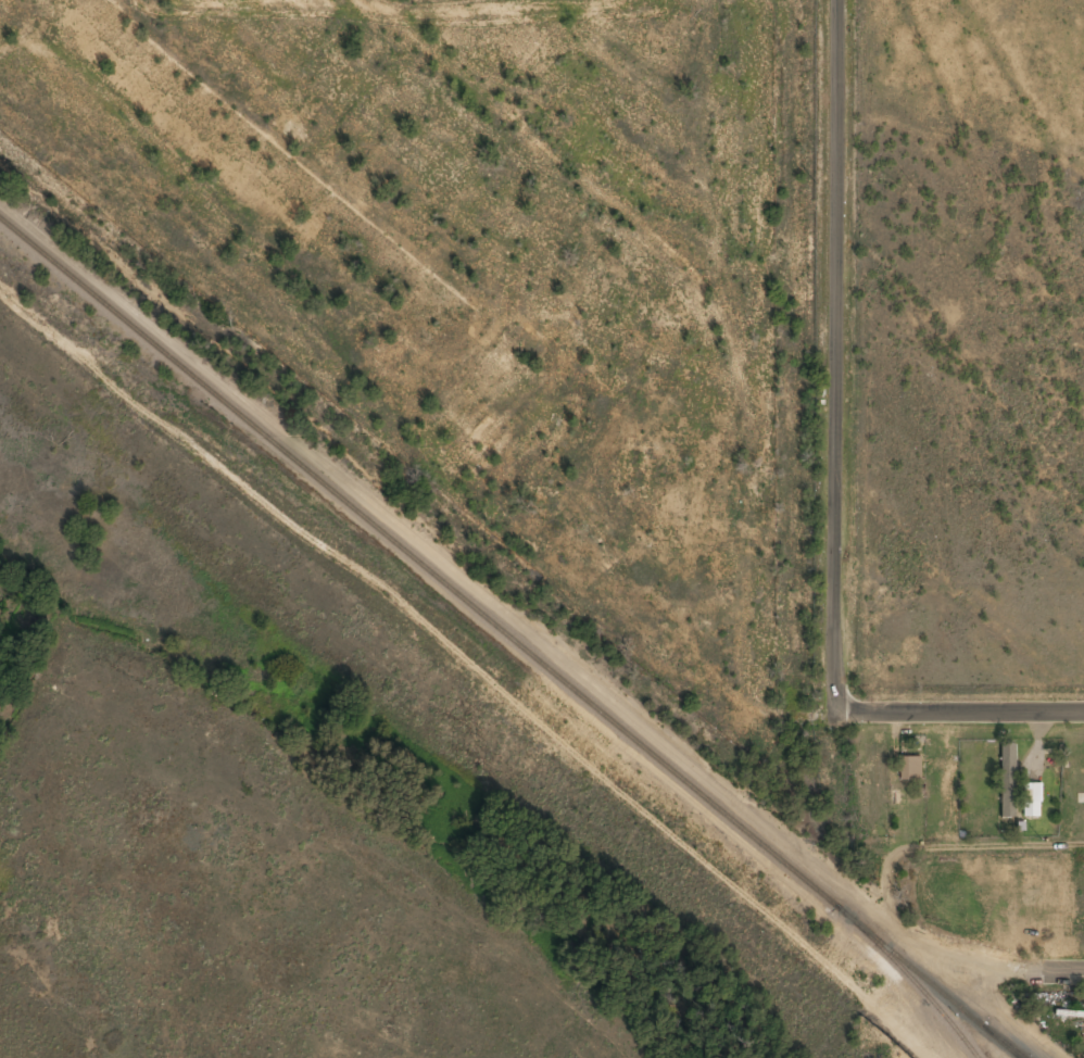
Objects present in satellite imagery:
road: (834, 356)
railway: (511, 635)
road: (959, 714)
building: (909, 767)
building: (1008, 768)
building: (1031, 798)
road: (994, 846)
road: (1063, 973)

